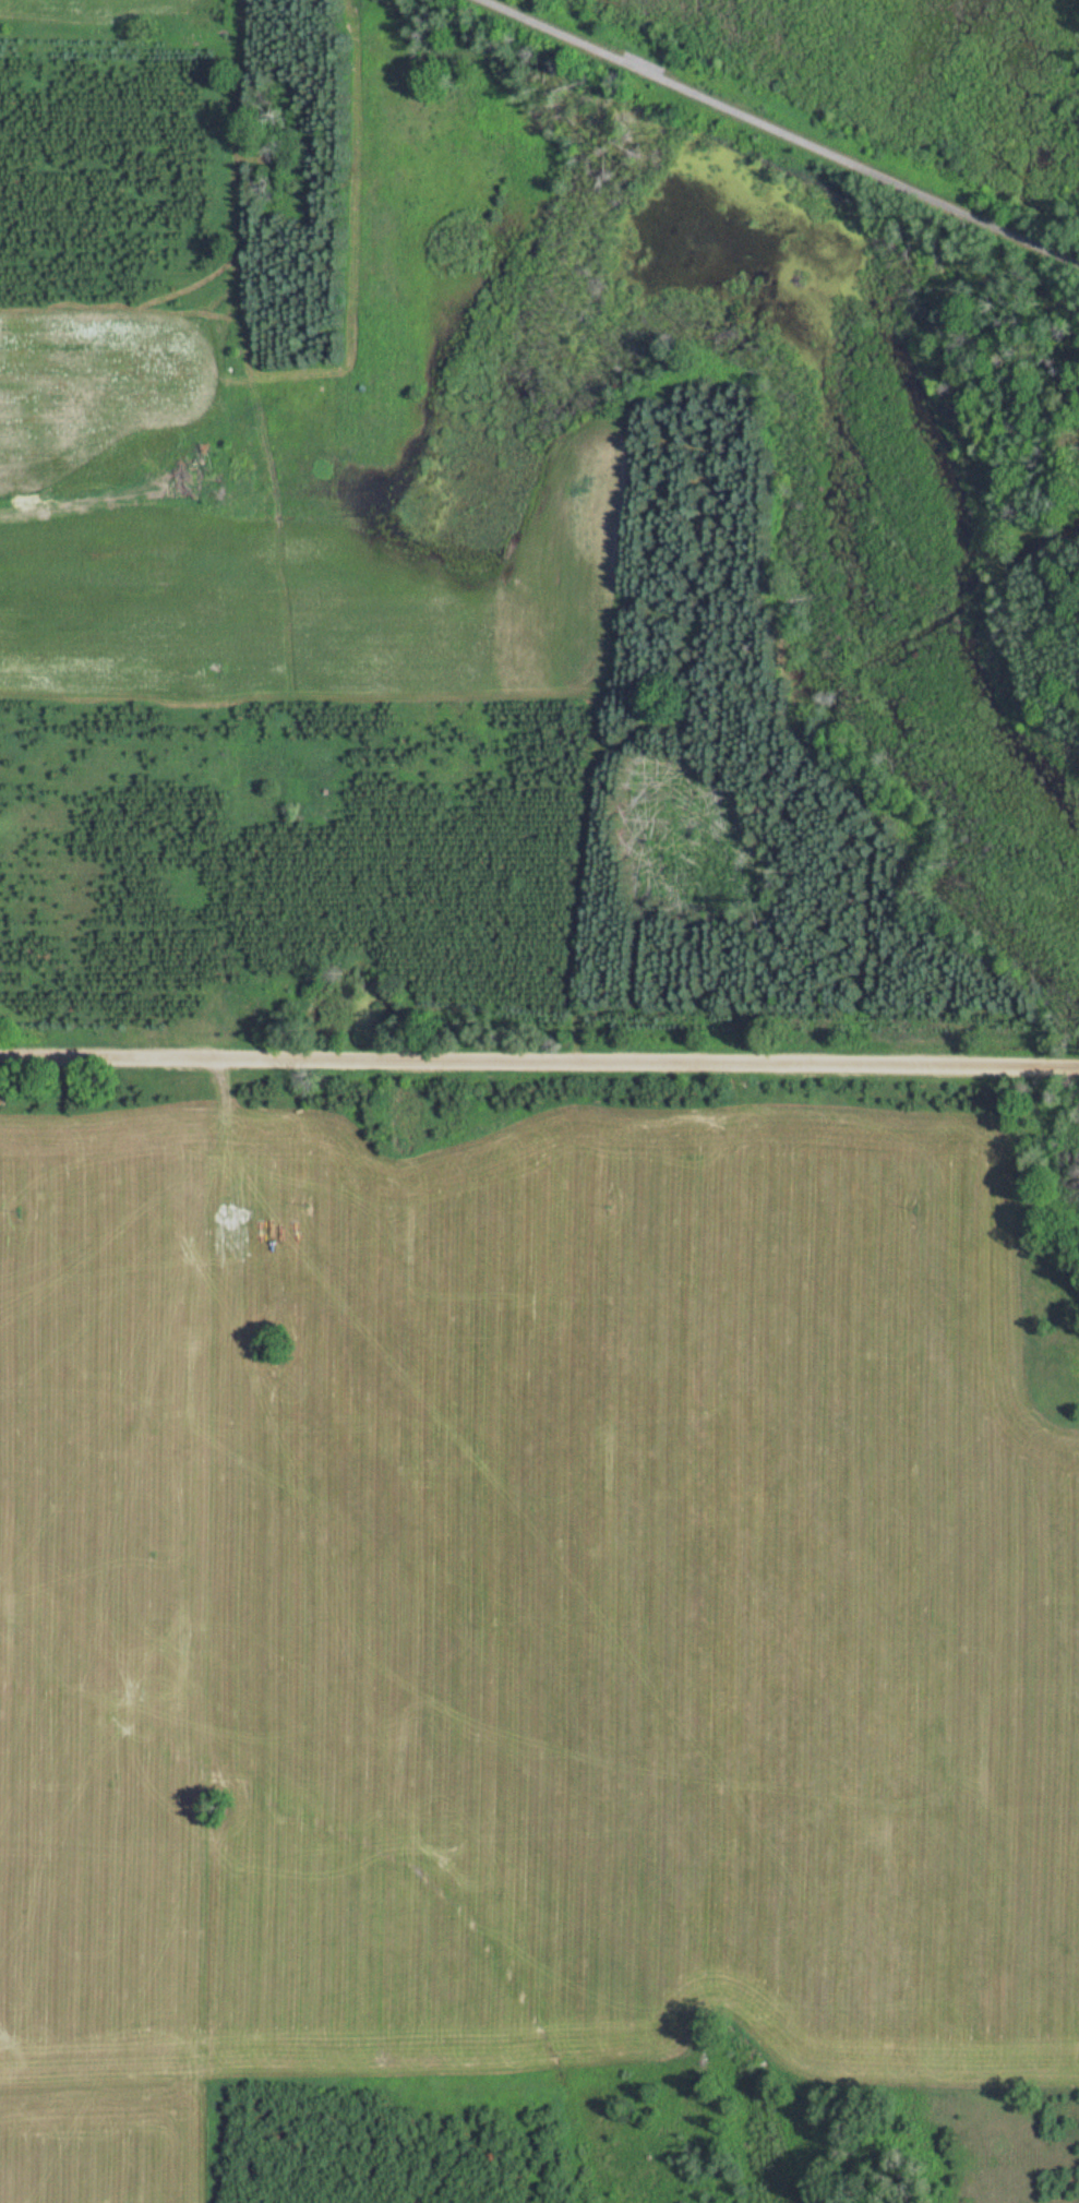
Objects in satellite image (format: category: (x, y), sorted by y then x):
road: (782, 131)
road: (539, 1065)

